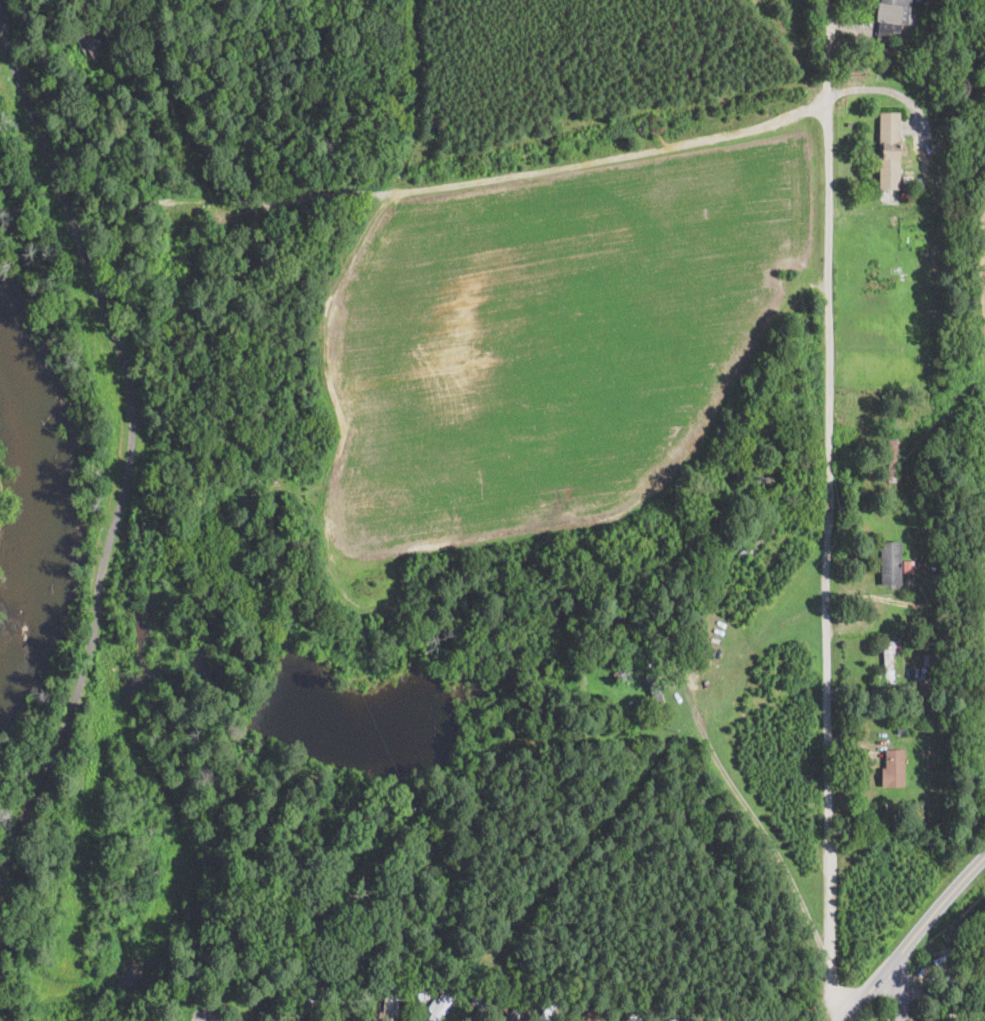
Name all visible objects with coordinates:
building: (892, 16)
building: (92, 38)
road: (881, 89)
building: (78, 93)
building: (67, 95)
building: (889, 151)
park: (423, 281)
road: (99, 293)
building: (893, 461)
river: (37, 488)
road: (825, 510)
building: (677, 515)
building: (757, 543)
building: (890, 563)
building: (919, 566)
building: (909, 567)
road: (97, 604)
building: (919, 621)
building: (610, 650)
building: (890, 659)
building: (930, 661)
building: (622, 674)
building: (657, 698)
building: (907, 739)
road: (57, 750)
building: (894, 769)
building: (945, 779)
park: (107, 827)
road: (765, 832)
road: (942, 911)
building: (943, 967)
building: (443, 984)
building: (420, 992)
road: (876, 993)
road: (901, 993)
building: (314, 995)
building: (391, 1001)
building: (242, 1004)
building: (441, 1004)
building: (484, 1007)
building: (519, 1009)
building: (549, 1012)
building: (591, 1014)
building: (632, 1015)
building: (674, 1016)
building: (716, 1016)
building: (796, 1017)

